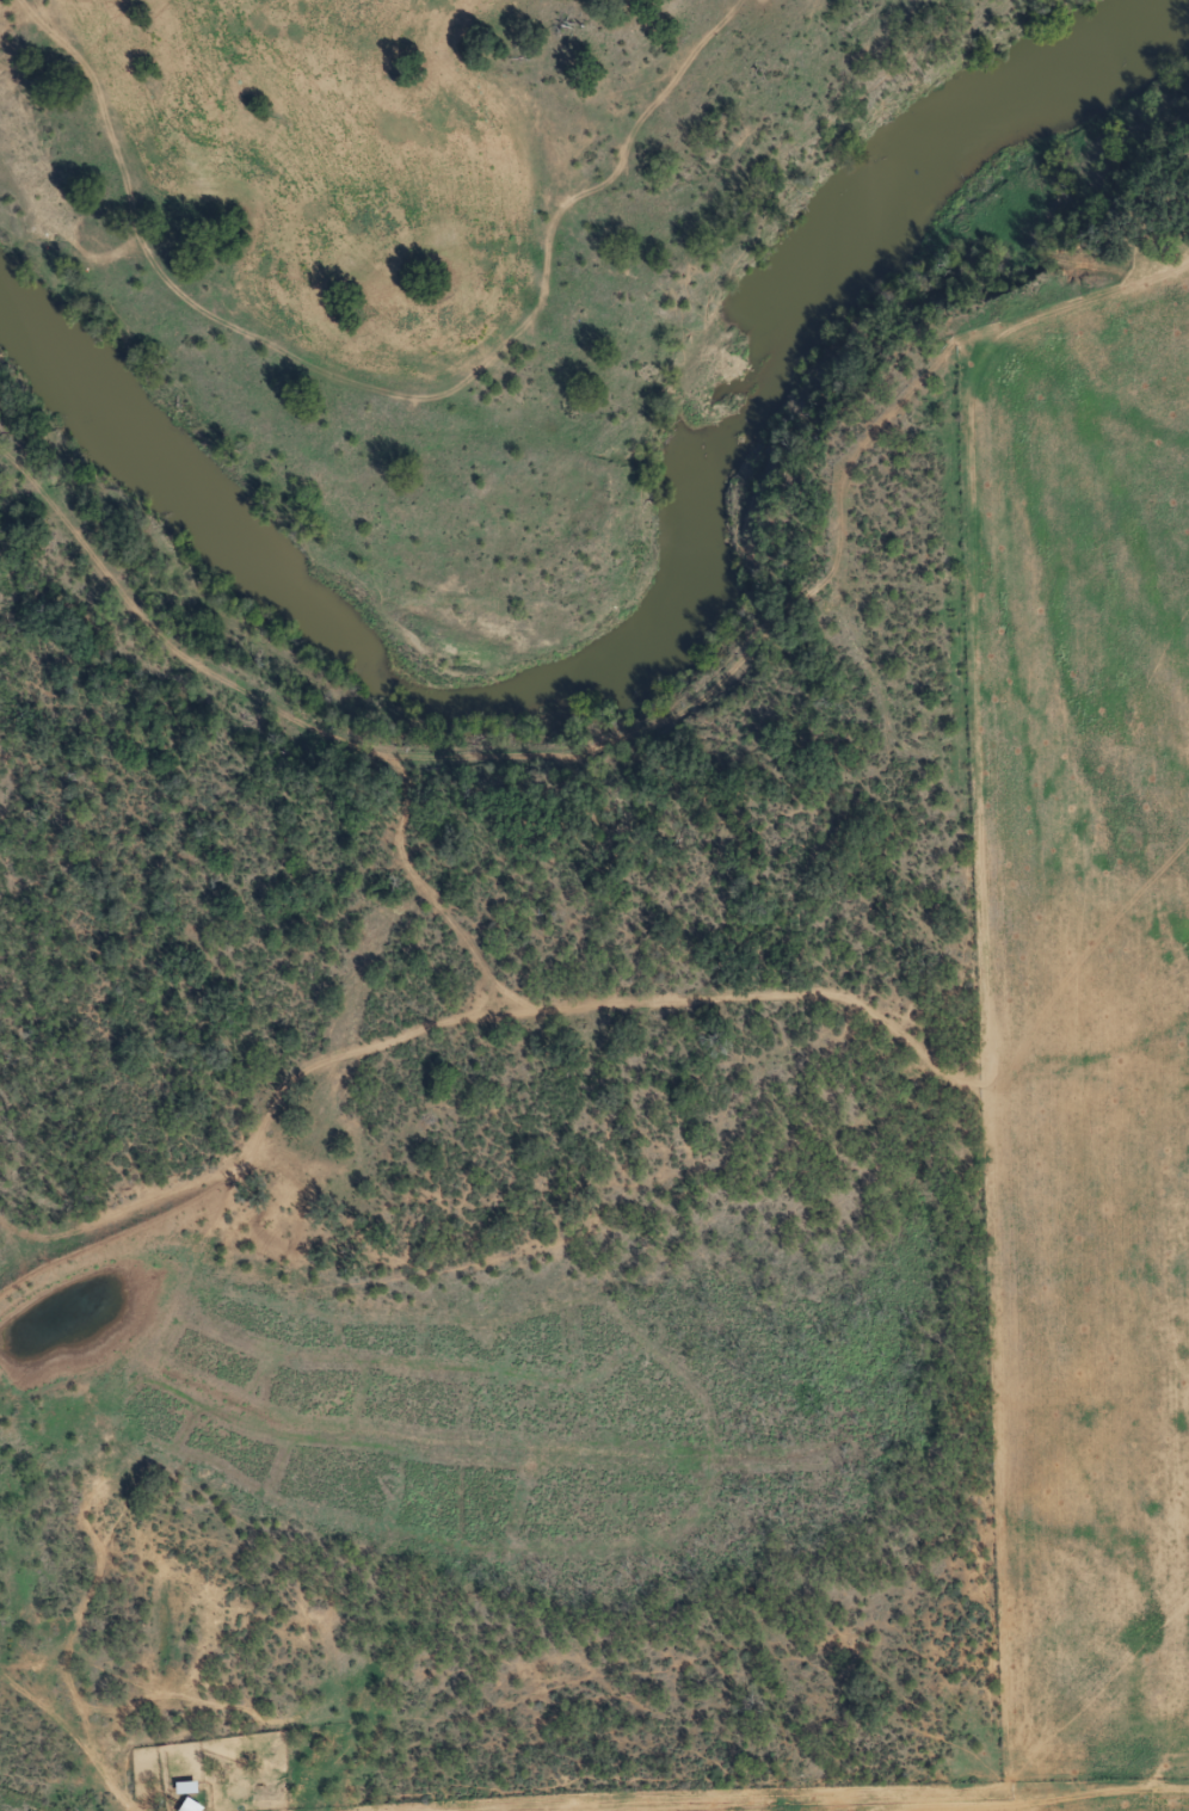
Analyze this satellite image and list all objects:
road: (543, 159)
river: (653, 627)
road: (75, 1718)
road: (986, 1781)

